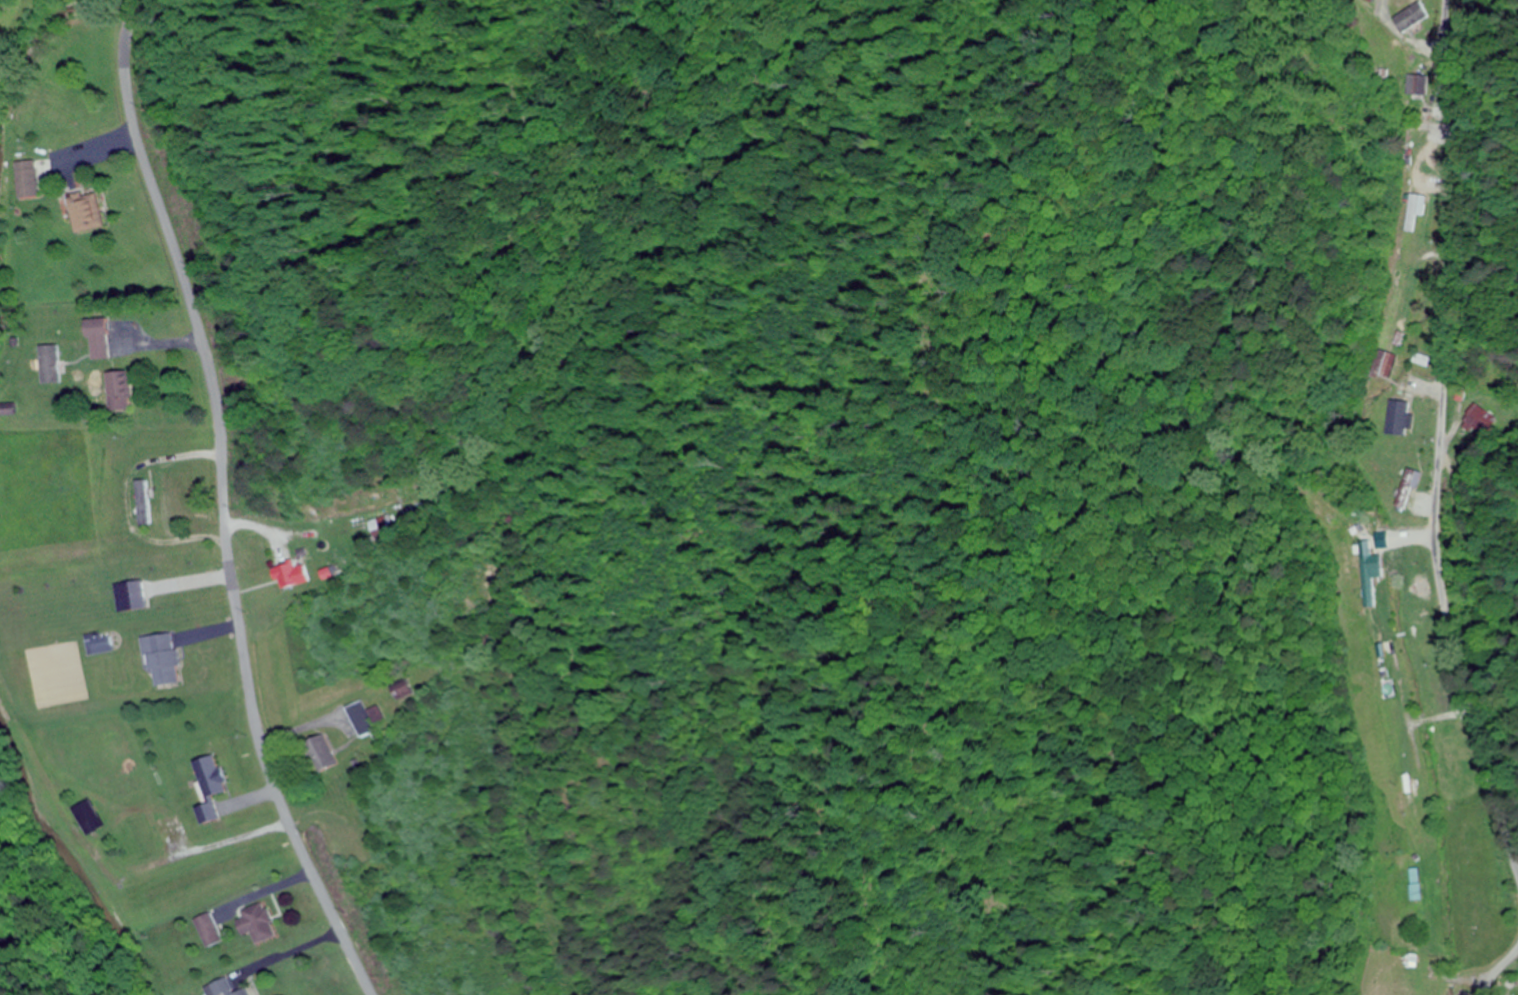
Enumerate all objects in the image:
building: (1420, 13)
building: (27, 176)
building: (85, 213)
building: (1410, 214)
building: (98, 340)
building: (1423, 360)
building: (48, 364)
building: (1384, 365)
building: (117, 391)
building: (1482, 421)
road: (1440, 445)
building: (1408, 489)
road: (220, 502)
building: (140, 503)
building: (378, 527)
building: (289, 575)
building: (127, 596)
building: (97, 646)
building: (160, 660)
building: (402, 691)
building: (365, 719)
building: (322, 754)
building: (210, 787)
building: (1413, 807)
building: (1416, 885)
building: (257, 924)
building: (209, 932)
road: (1497, 968)
building: (247, 993)

